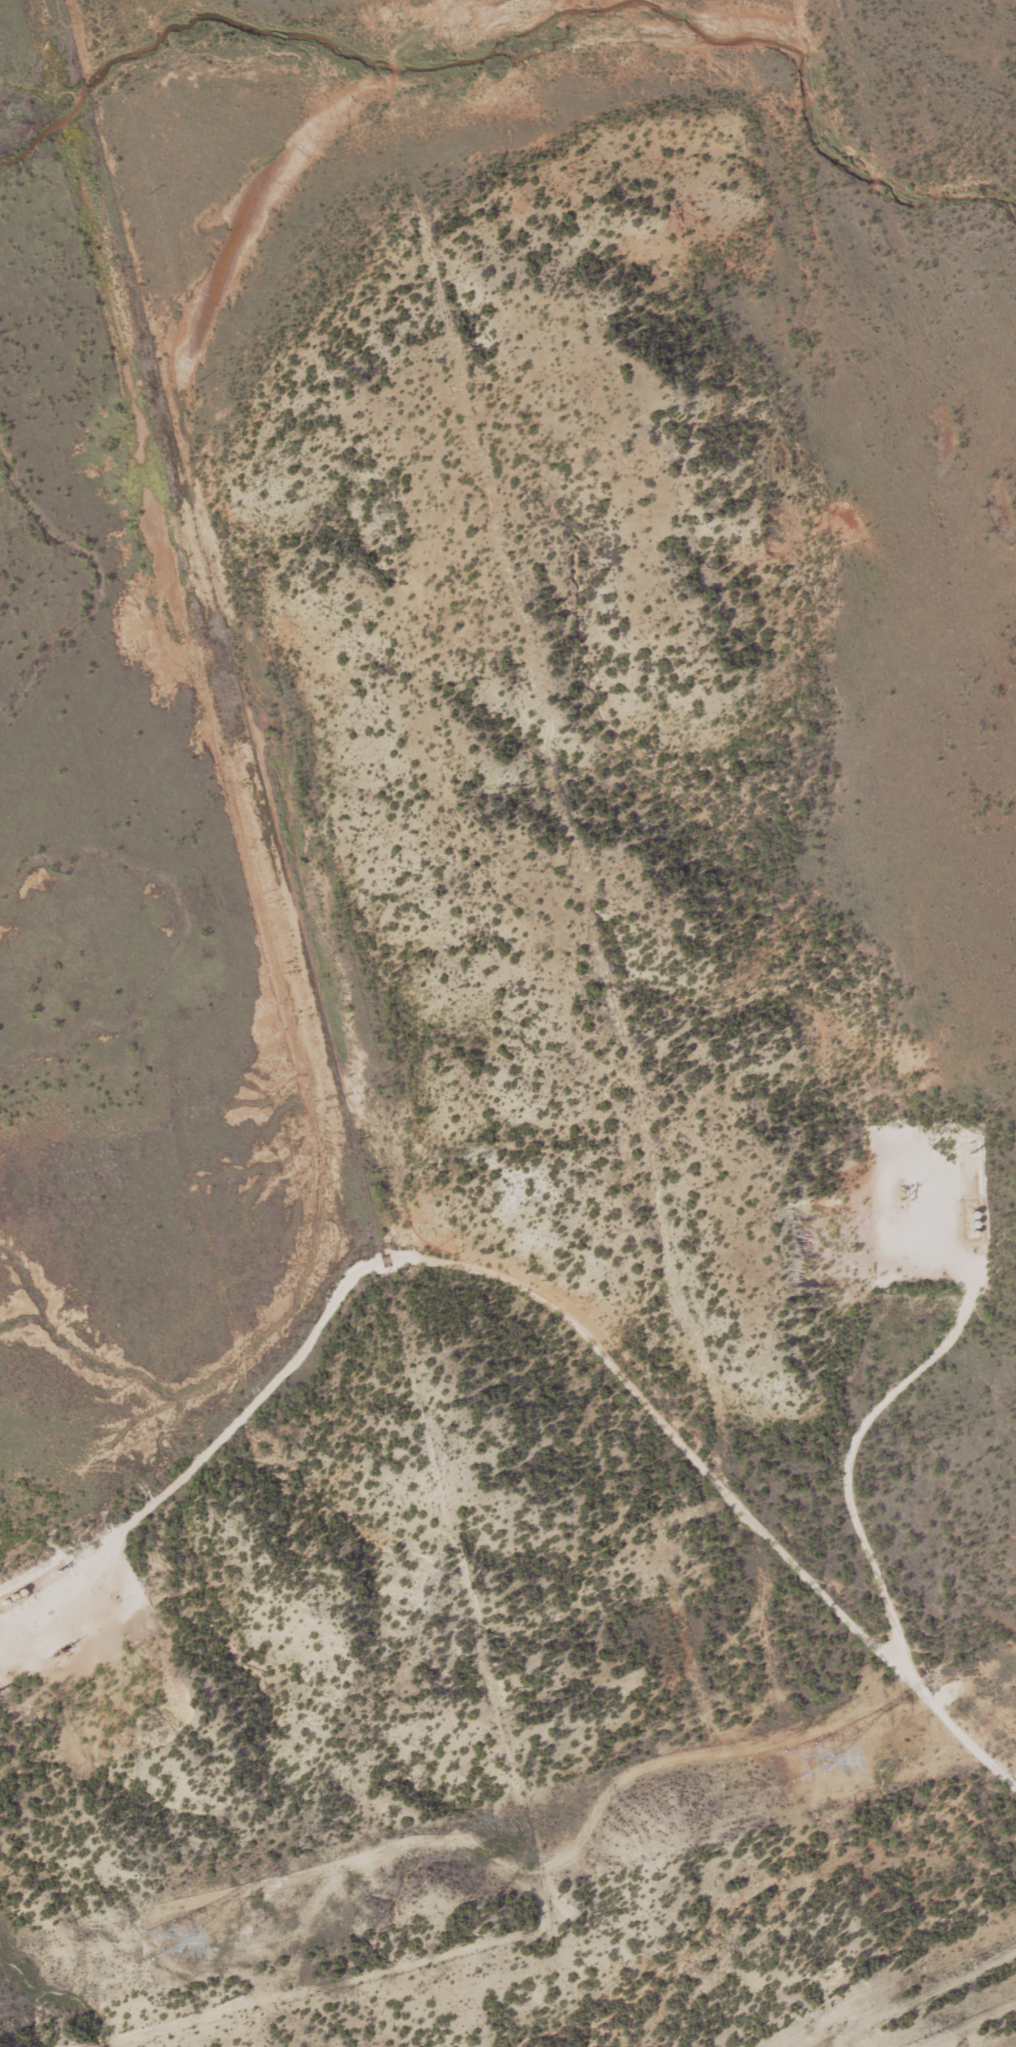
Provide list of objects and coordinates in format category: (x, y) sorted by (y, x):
power tower: (803, 1760)
power tower: (161, 1940)

